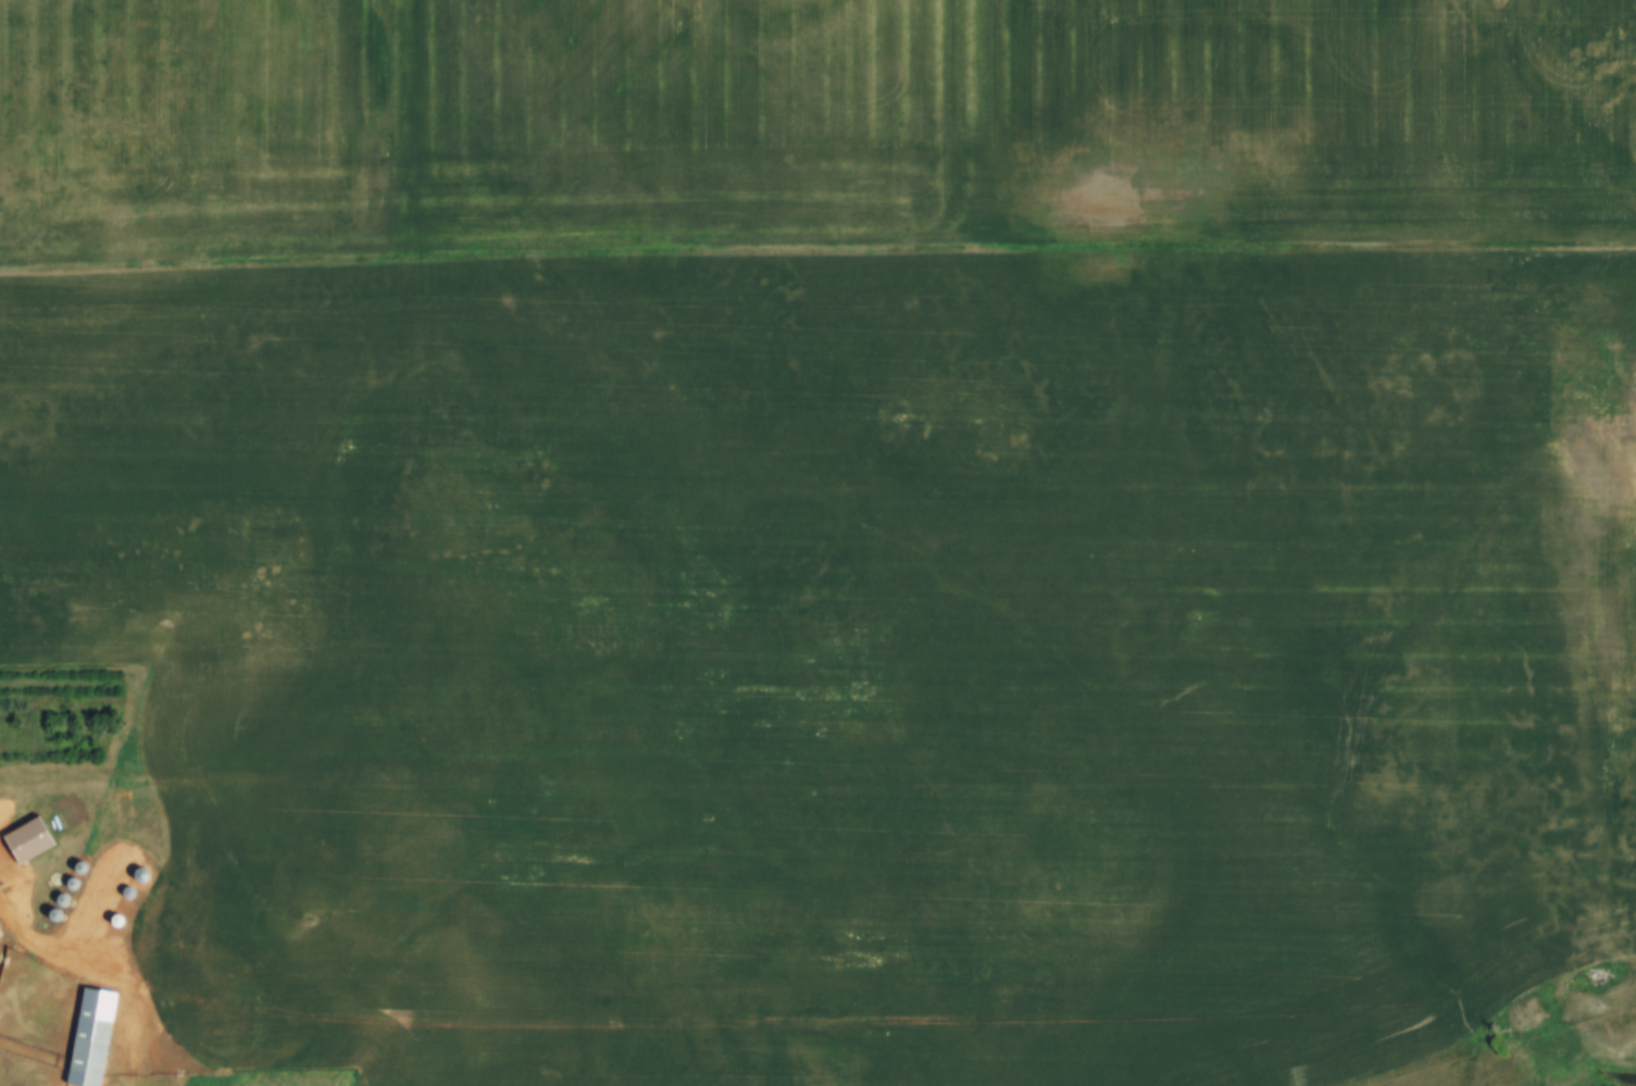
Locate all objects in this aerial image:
building: (23, 840)
road: (36, 938)
building: (88, 1037)

